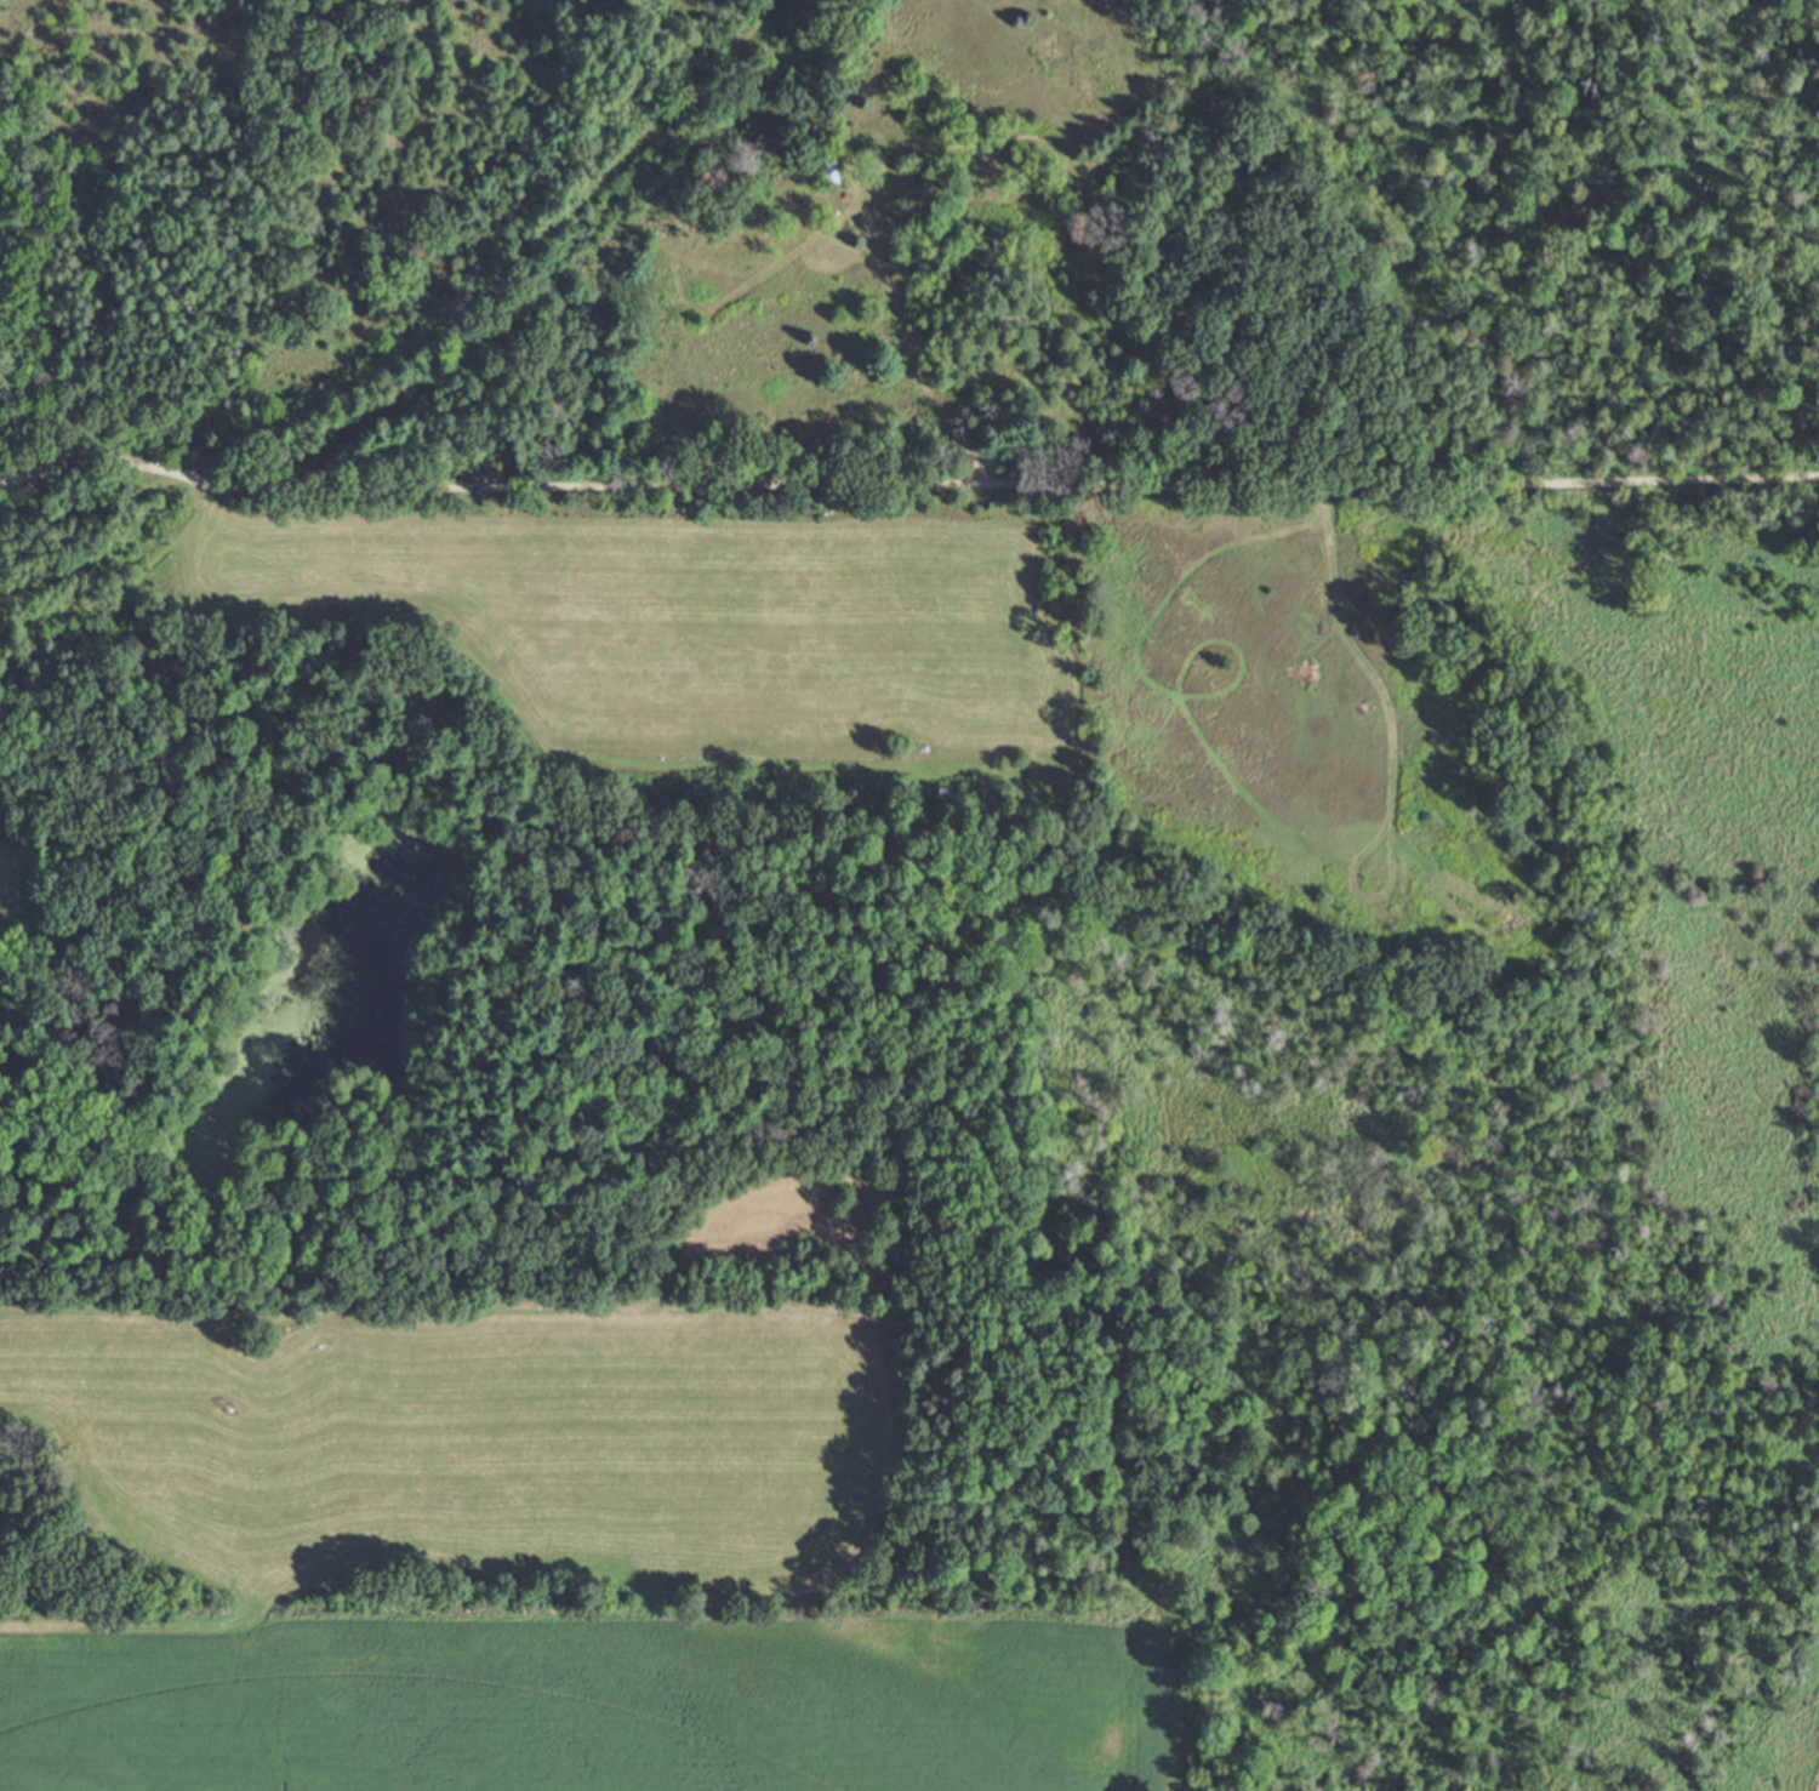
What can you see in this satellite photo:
building: (827, 172)
road: (427, 326)
road: (906, 487)

